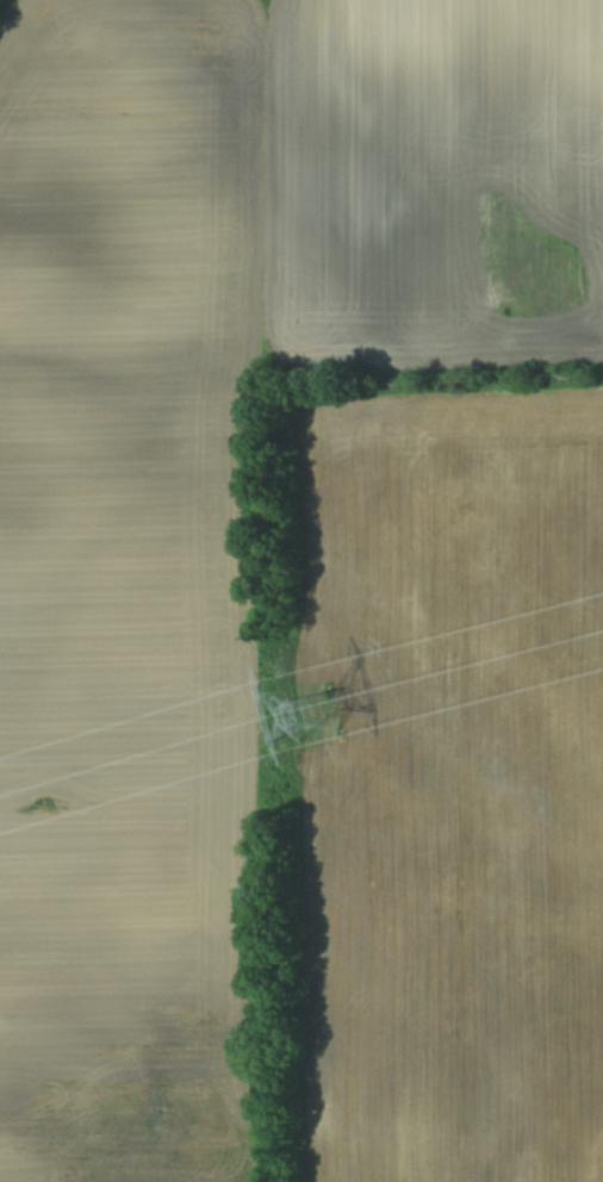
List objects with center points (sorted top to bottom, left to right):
power tower: (324, 682)

